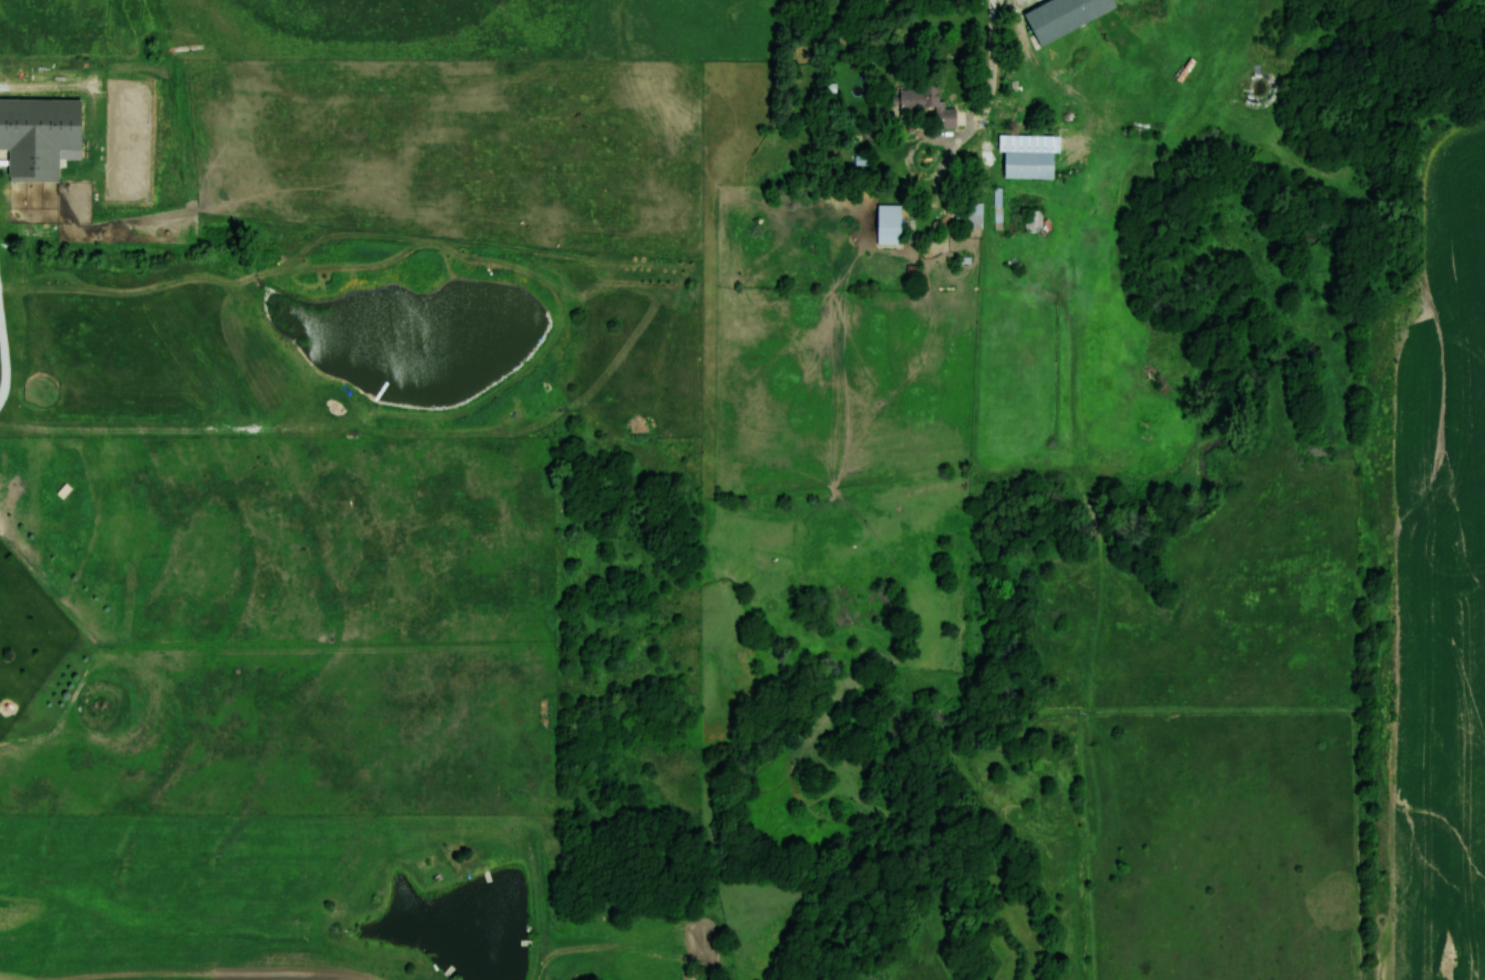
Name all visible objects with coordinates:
road: (994, 64)
building: (924, 102)
building: (36, 135)
building: (1026, 164)
building: (997, 208)
building: (968, 214)
building: (1034, 220)
building: (886, 223)
road: (5, 349)

